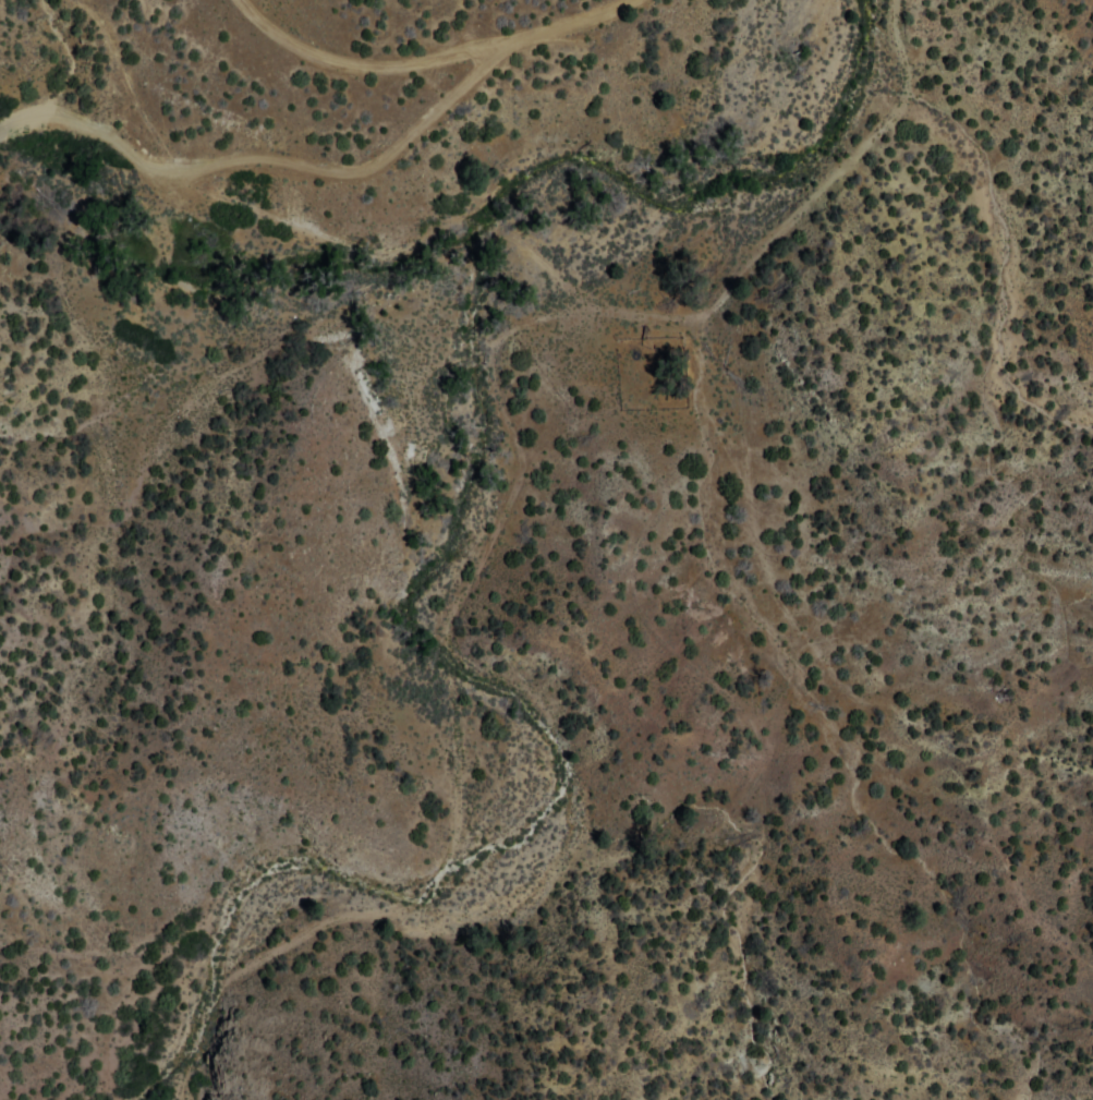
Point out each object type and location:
road: (137, 95)
road: (526, 258)
road: (446, 718)

